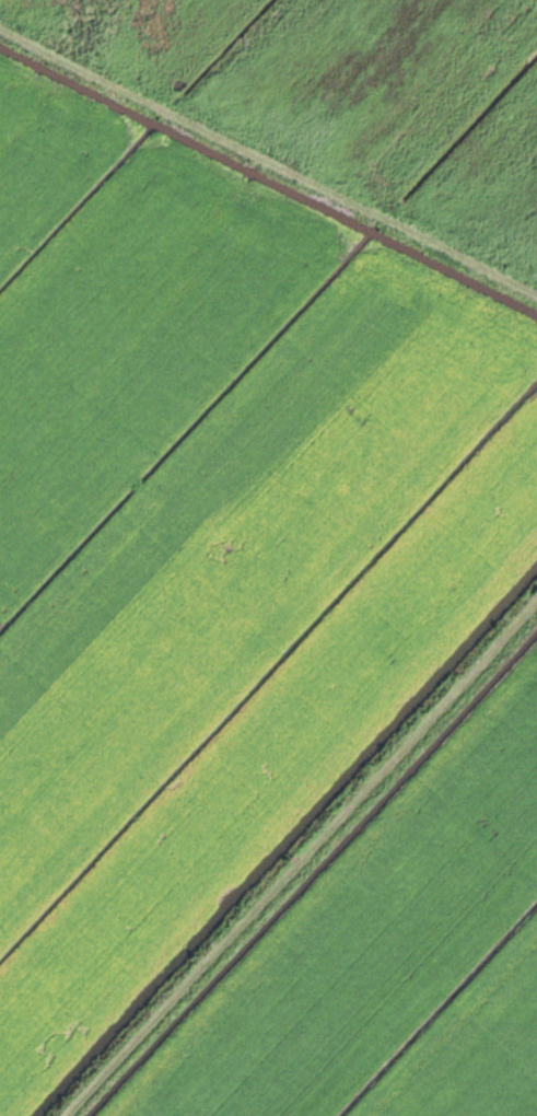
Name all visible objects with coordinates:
crop: (210, 534)
road: (303, 861)
crop: (388, 954)

